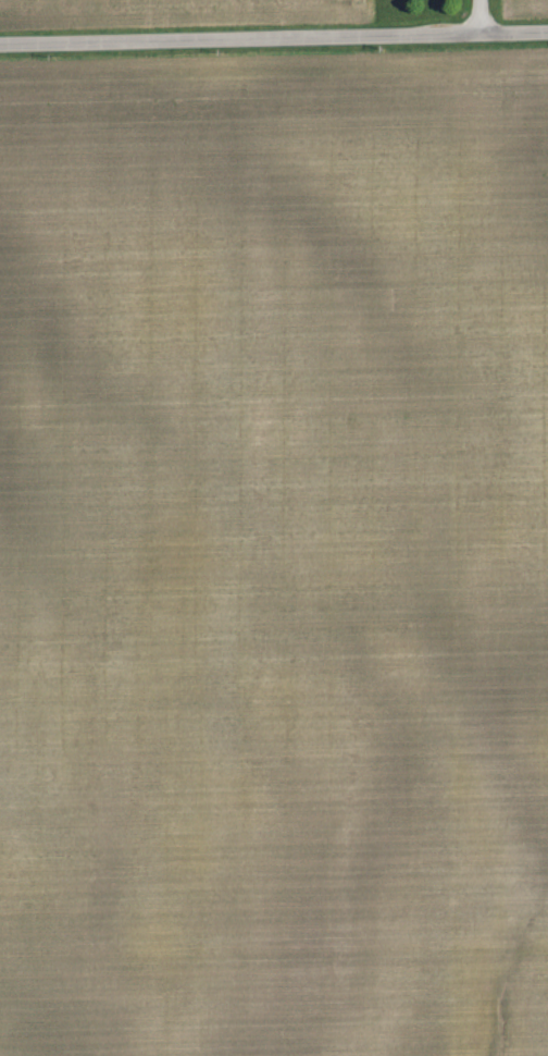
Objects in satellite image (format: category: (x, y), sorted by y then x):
road: (274, 37)
crop: (274, 554)

